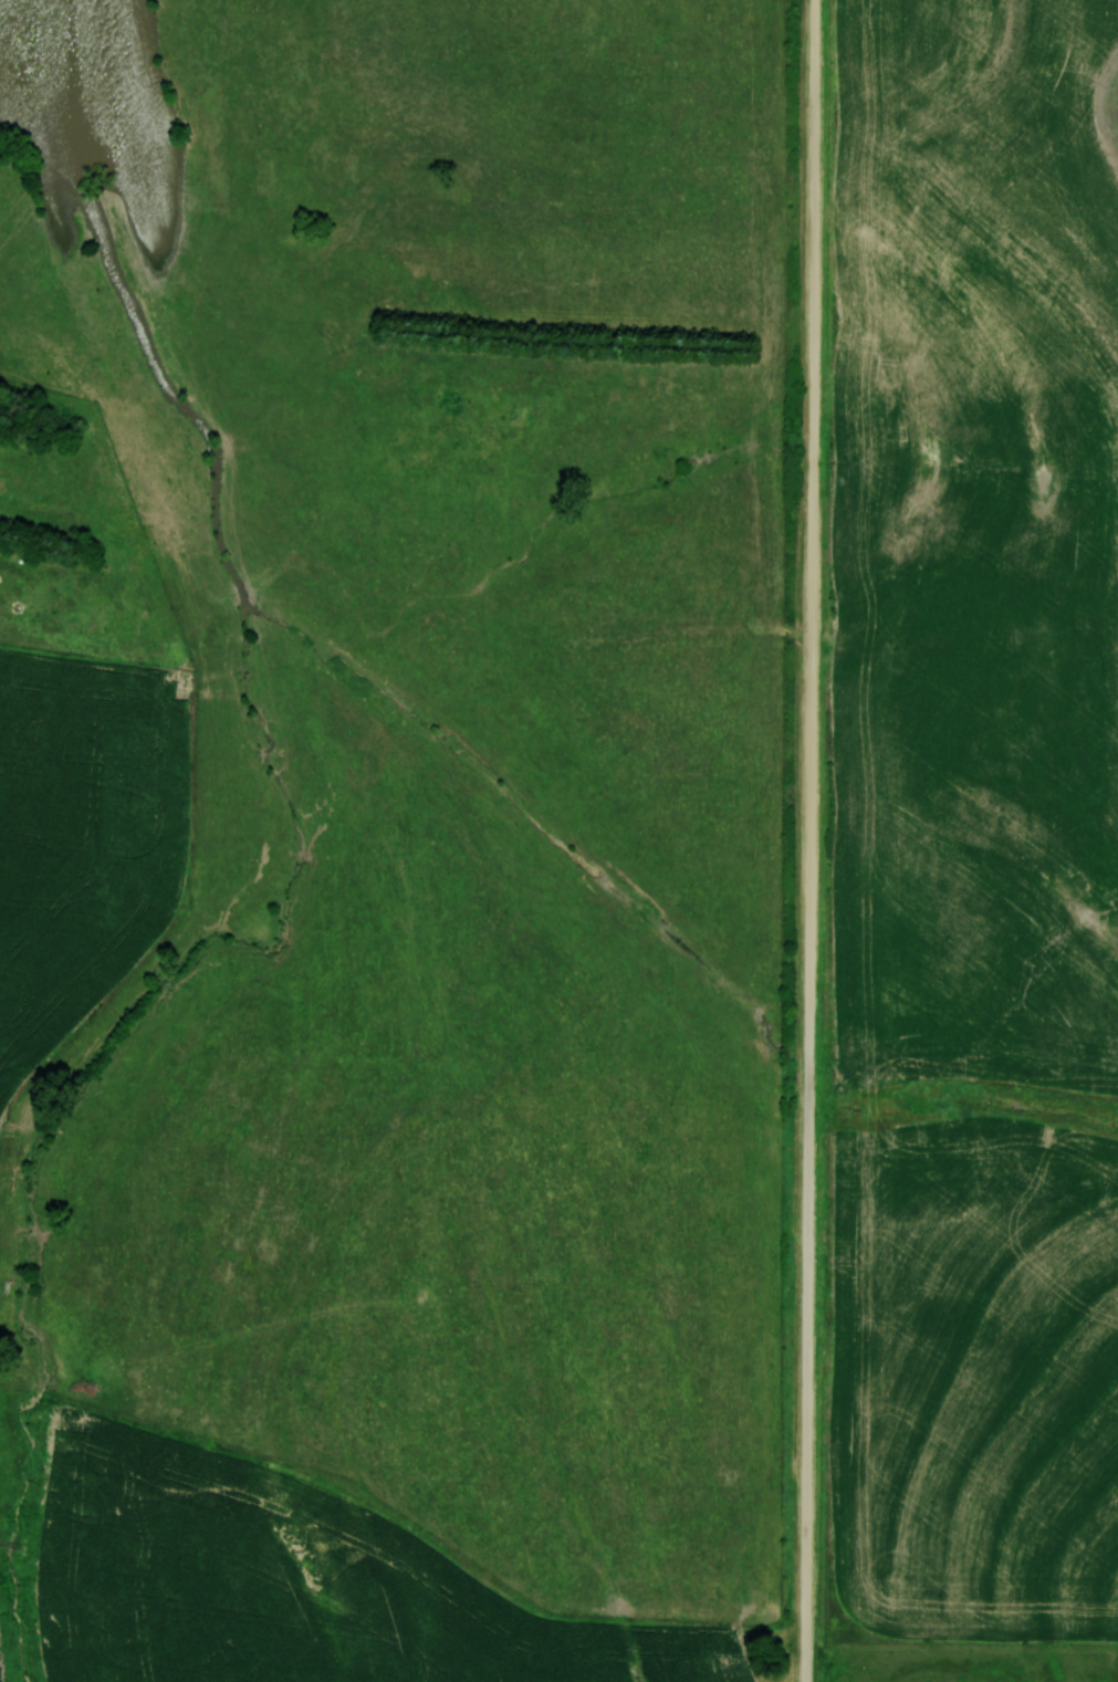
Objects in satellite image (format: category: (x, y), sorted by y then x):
road: (816, 840)

